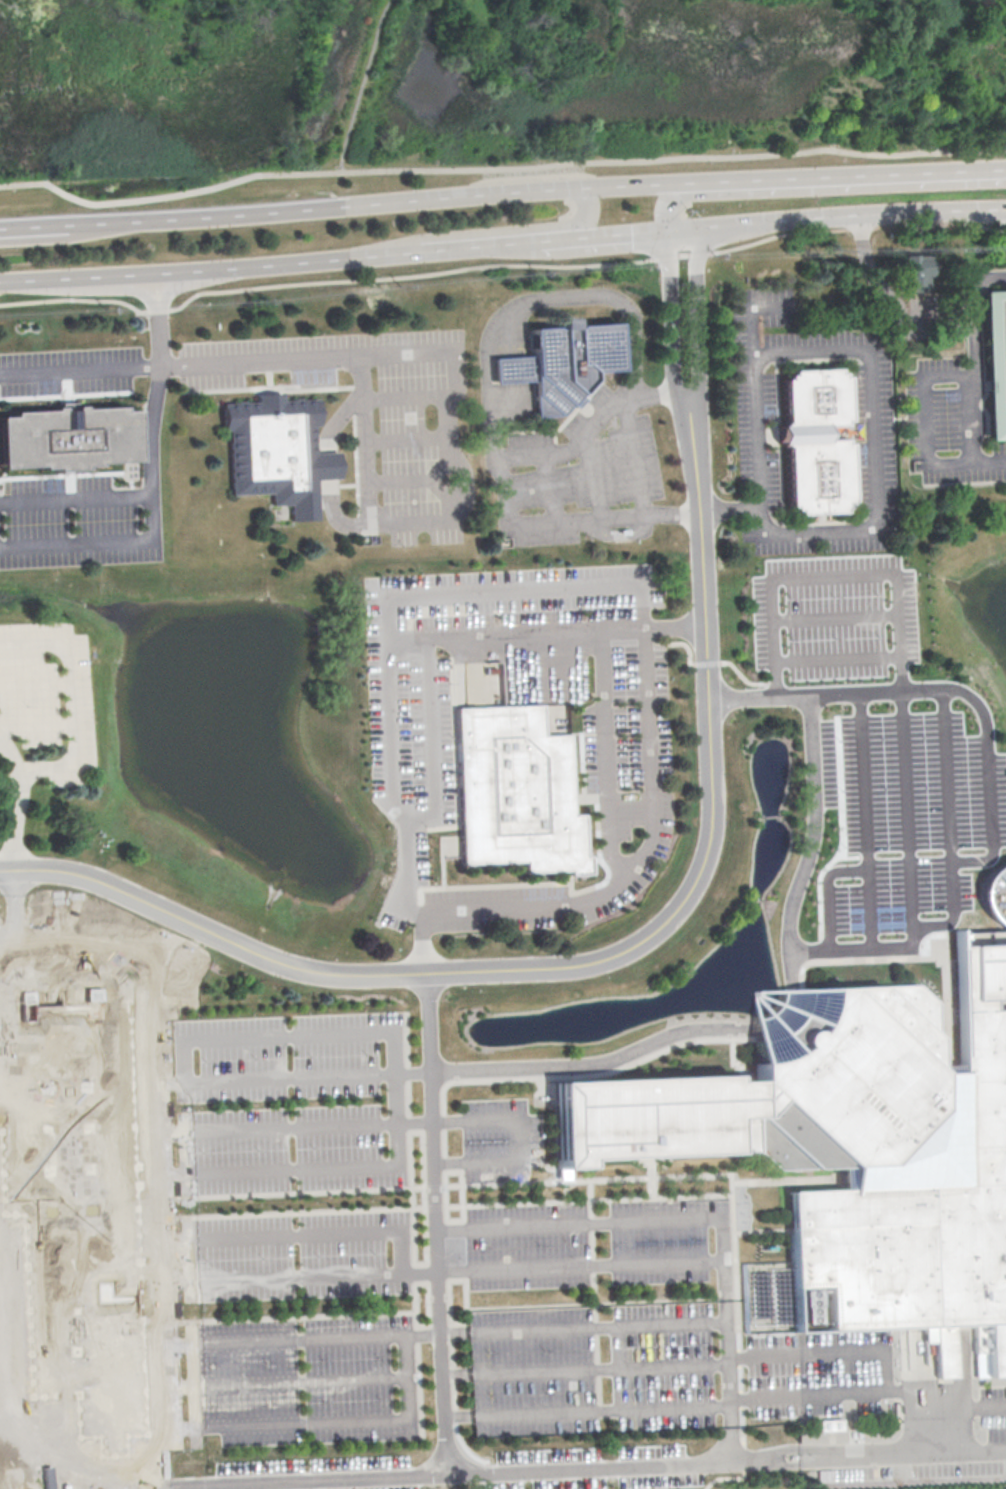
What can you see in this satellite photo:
park: (775, 71)
road: (363, 84)
road: (503, 168)
road: (845, 171)
road: (378, 201)
road: (666, 202)
road: (584, 215)
road: (836, 215)
road: (35, 224)
traffic signals: (667, 234)
road: (603, 237)
road: (478, 246)
road: (500, 263)
road: (207, 268)
building: (913, 275)
road: (877, 285)
road: (974, 314)
road: (158, 319)
road: (699, 333)
road: (672, 336)
road: (812, 350)
road: (872, 359)
building: (555, 362)
building: (996, 362)
parking lot: (68, 369)
road: (80, 369)
road: (487, 374)
road: (925, 375)
road: (654, 392)
road: (445, 423)
parking lot: (944, 425)
parking lot: (418, 428)
road: (412, 438)
building: (65, 439)
building: (814, 442)
road: (568, 449)
road: (630, 452)
building: (277, 454)
road: (989, 461)
road: (326, 466)
road: (594, 476)
parking lot: (584, 477)
road: (549, 487)
road: (75, 498)
road: (671, 516)
parking lot: (73, 523)
road: (152, 529)
road: (514, 591)
parking lot: (834, 615)
road: (834, 616)
road: (676, 623)
road: (626, 626)
road: (678, 642)
road: (836, 657)
road: (706, 662)
road: (747, 680)
road: (37, 684)
road: (906, 691)
road: (75, 698)
road: (899, 698)
parking lot: (47, 700)
road: (38, 725)
parking lot: (626, 748)
road: (580, 752)
road: (606, 753)
building: (514, 791)
road: (588, 797)
road: (17, 803)
road: (987, 809)
road: (863, 821)
parking lot: (905, 825)
road: (947, 826)
road: (839, 842)
road: (442, 853)
road: (849, 856)
road: (593, 858)
road: (604, 864)
road: (480, 885)
road: (14, 900)
road: (7, 930)
road: (915, 946)
road: (577, 964)
road: (942, 978)
building: (779, 1013)
road: (767, 1022)
road: (672, 1045)
road: (733, 1058)
road: (323, 1078)
road: (540, 1088)
parking lot: (300, 1103)
road: (395, 1104)
road: (427, 1122)
parking lot: (501, 1139)
building: (856, 1149)
road: (542, 1166)
road: (562, 1175)
road: (652, 1177)
road: (786, 1180)
road: (462, 1184)
road: (434, 1185)
road: (654, 1188)
road: (309, 1190)
road: (425, 1195)
building: (87, 1199)
road: (589, 1200)
road: (436, 1206)
road: (312, 1211)
road: (622, 1222)
road: (413, 1223)
road: (762, 1230)
road: (327, 1232)
parking lot: (592, 1242)
road: (593, 1242)
parking lot: (303, 1255)
road: (583, 1266)
road: (441, 1273)
road: (325, 1275)
road: (466, 1285)
road: (602, 1302)
road: (429, 1303)
road: (310, 1316)
road: (465, 1322)
road: (598, 1325)
road: (340, 1335)
road: (878, 1351)
road: (598, 1357)
road: (730, 1362)
road: (741, 1362)
road: (600, 1367)
parking lot: (593, 1368)
road: (457, 1372)
parking lot: (308, 1380)
road: (310, 1380)
road: (453, 1384)
road: (809, 1394)
road: (971, 1405)
road: (602, 1409)
road: (459, 1414)
road: (354, 1422)
building: (831, 1424)
road: (732, 1442)
road: (902, 1455)
road: (765, 1458)
parking lot: (595, 1468)
road: (745, 1473)
parking lot: (315, 1474)
road: (357, 1479)

